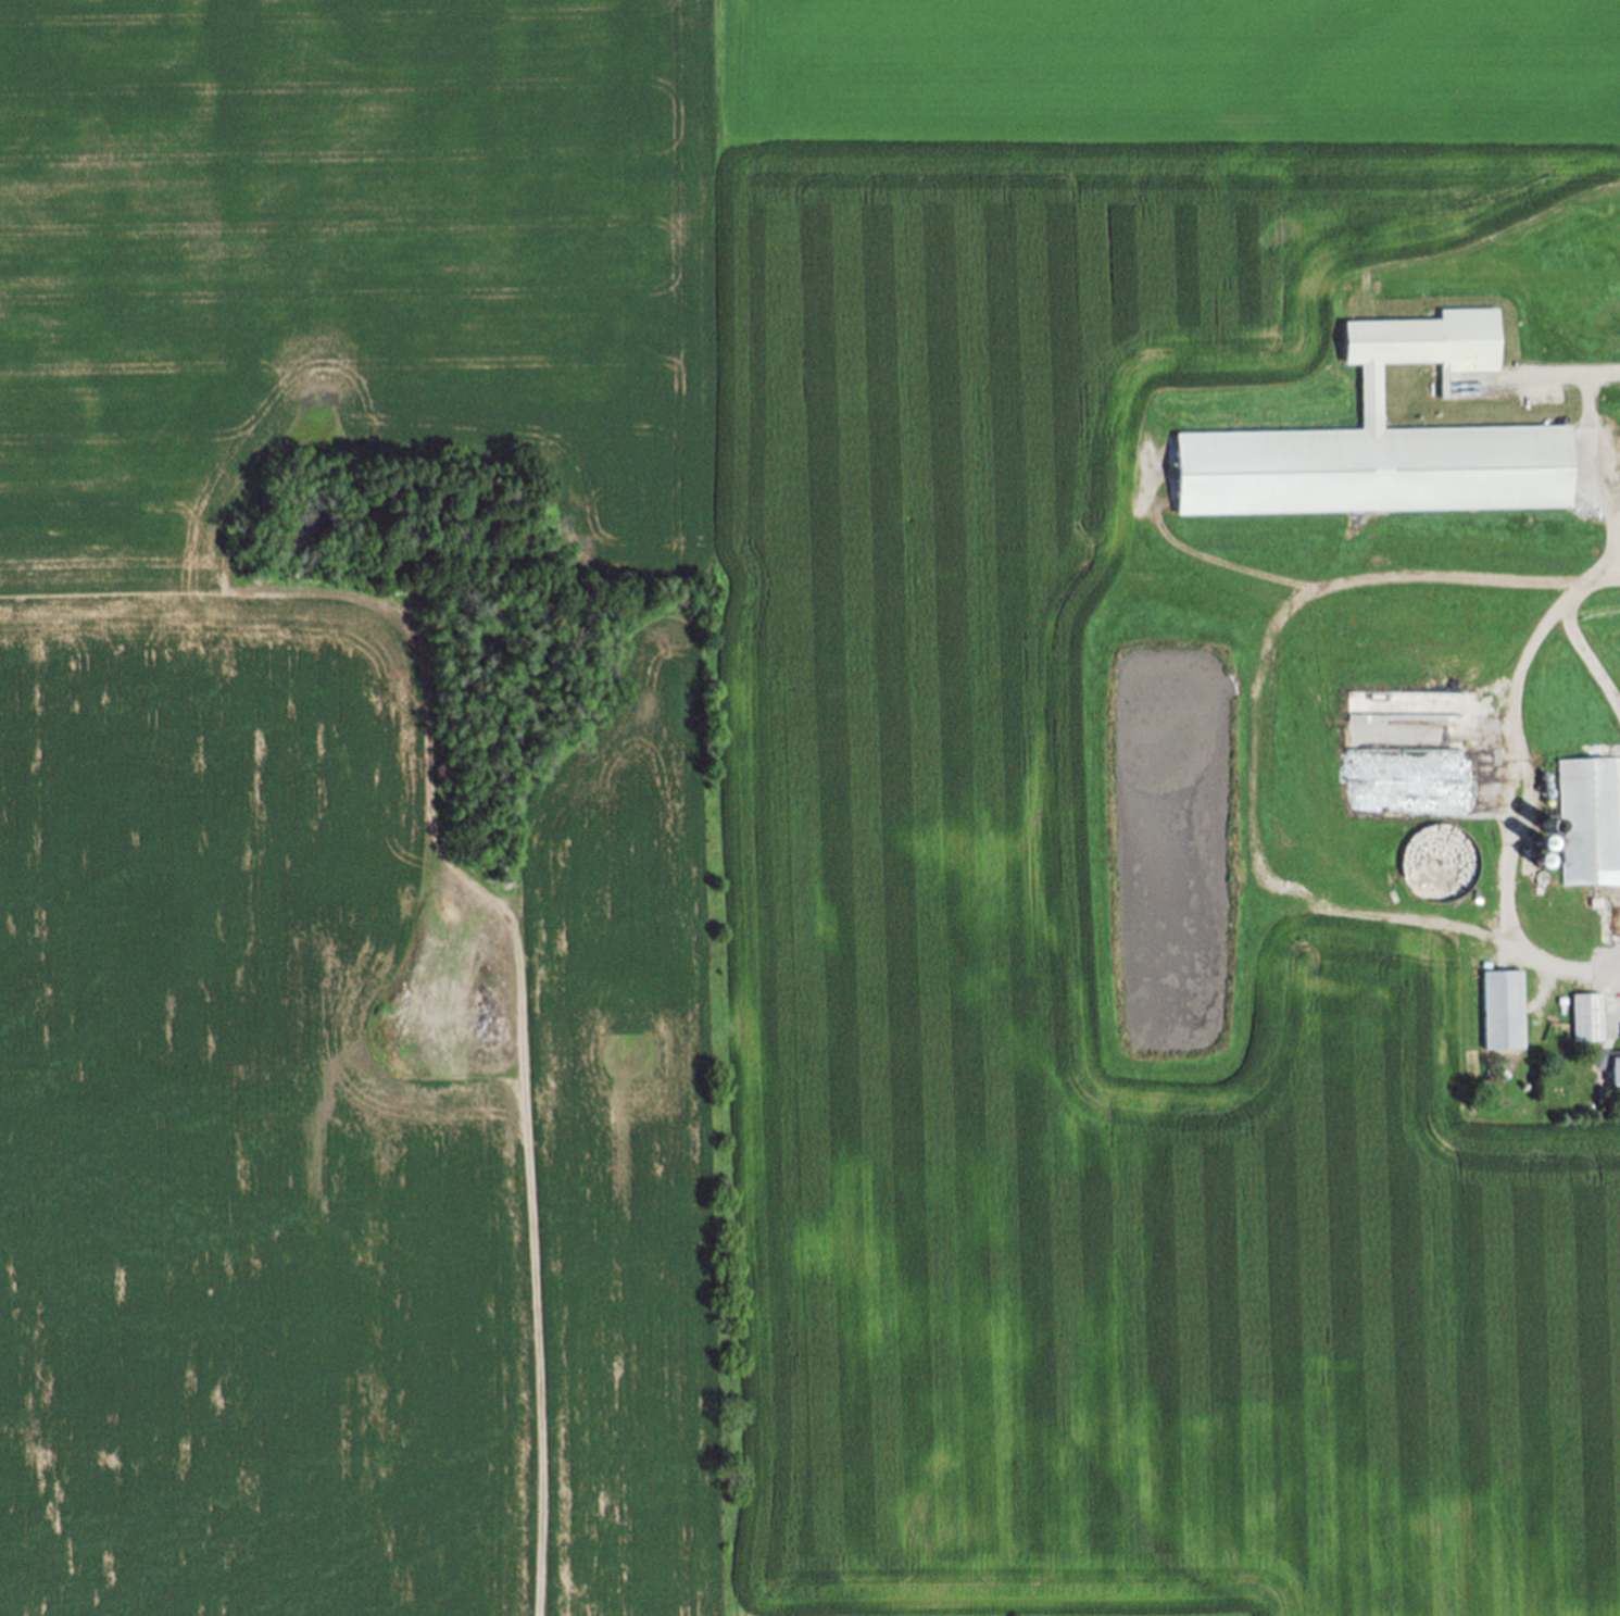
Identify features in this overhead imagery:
road: (1567, 377)
building: (1394, 441)
road: (1599, 471)
road: (1572, 634)
road: (1256, 723)
building: (1592, 822)
road: (1521, 940)
road: (1586, 966)
building: (1504, 1012)
building: (1588, 1019)
building: (1611, 1068)

